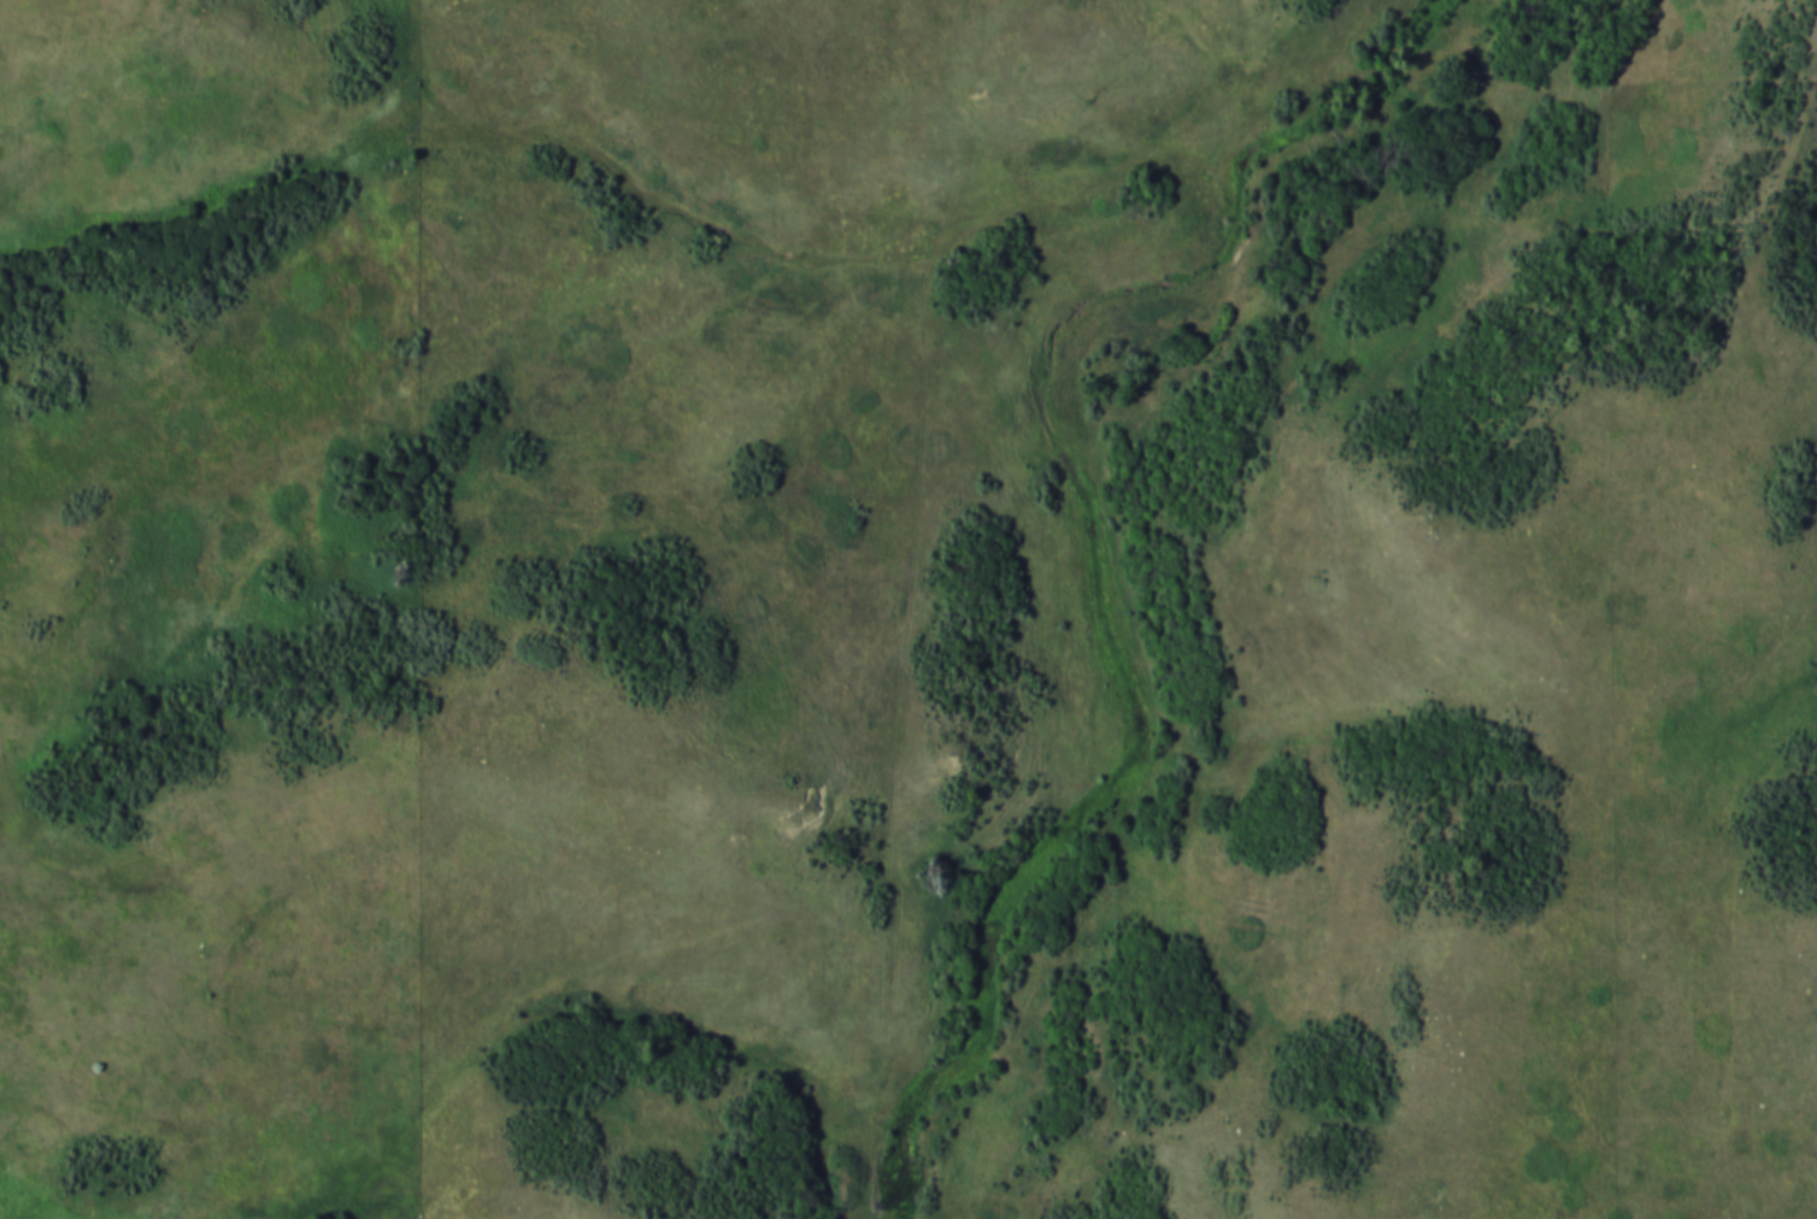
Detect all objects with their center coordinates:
road: (918, 599)

